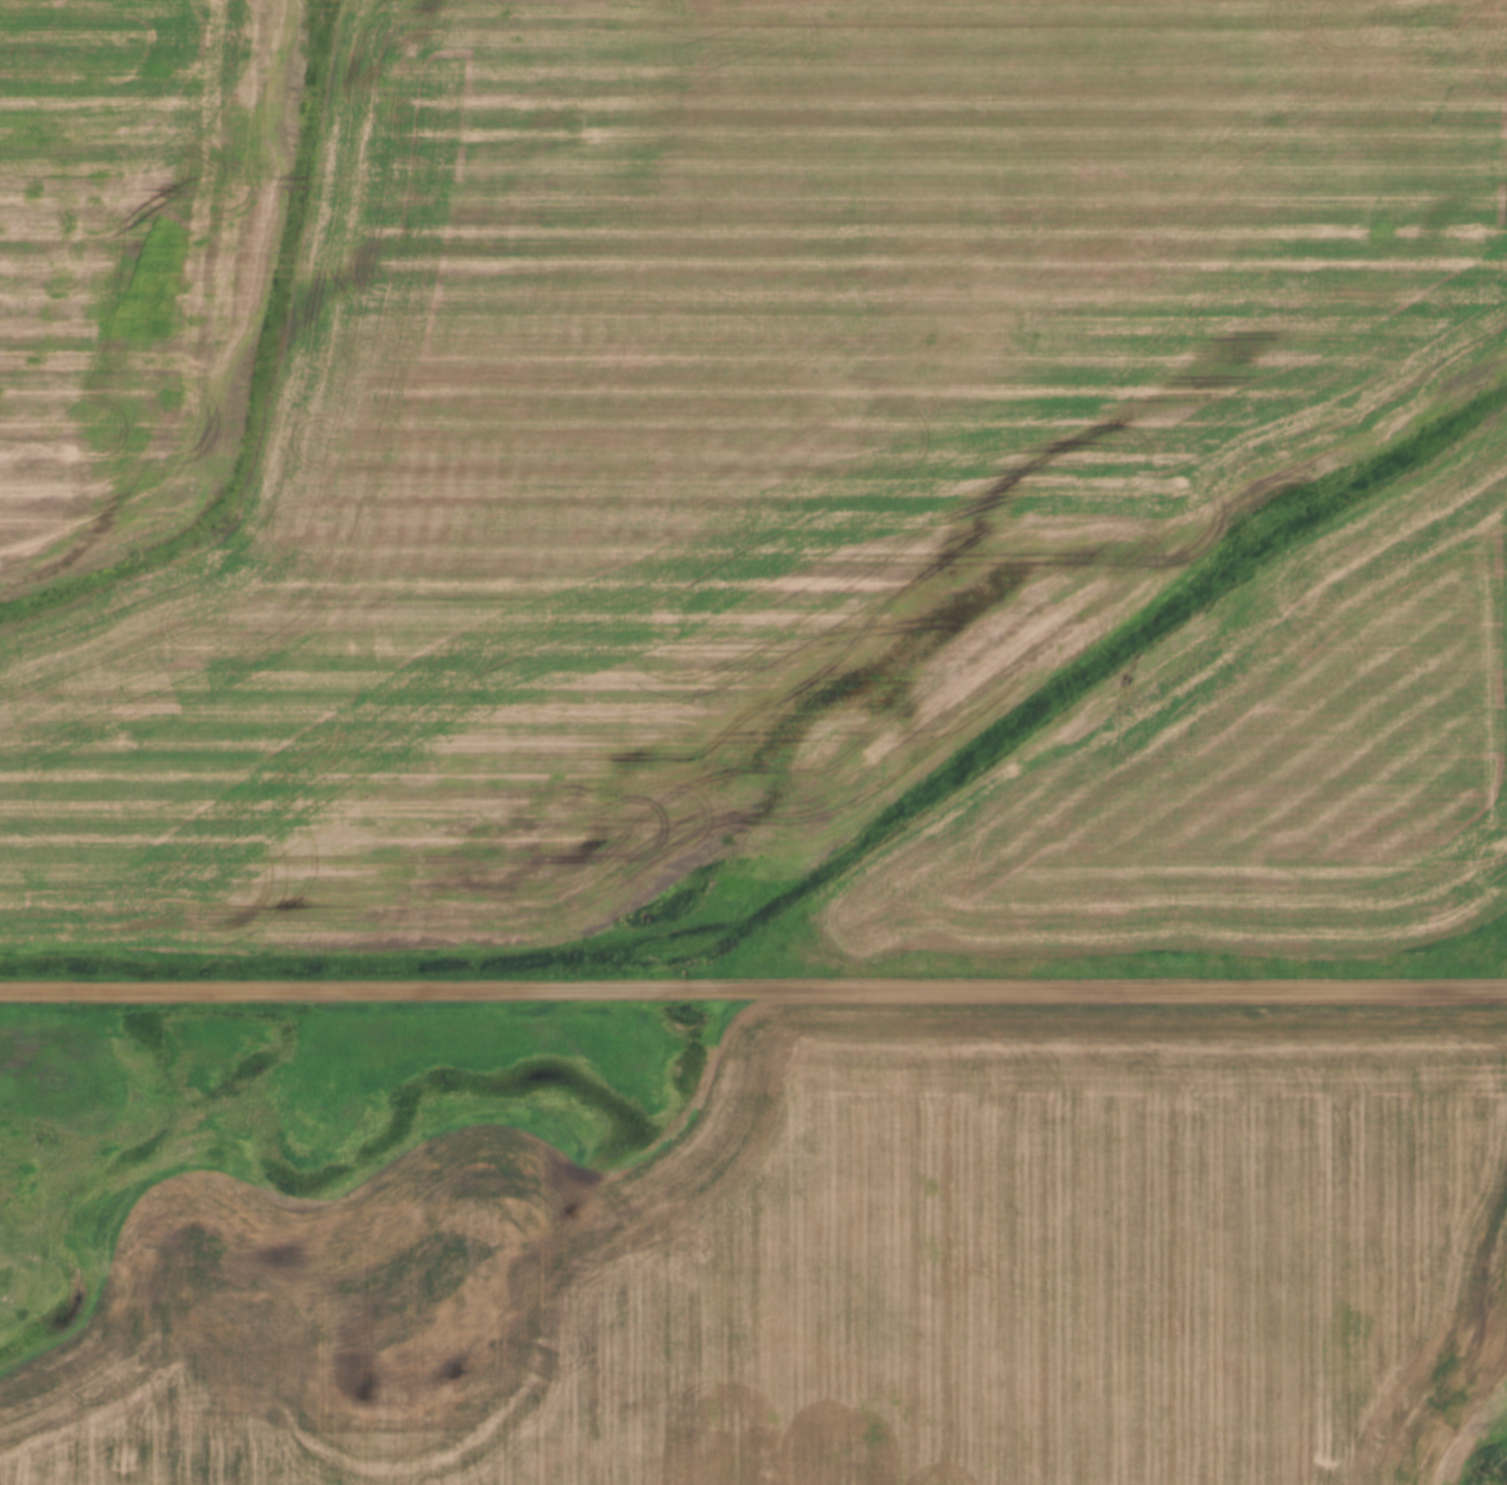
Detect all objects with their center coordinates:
road: (753, 991)
road: (1458, 1448)

